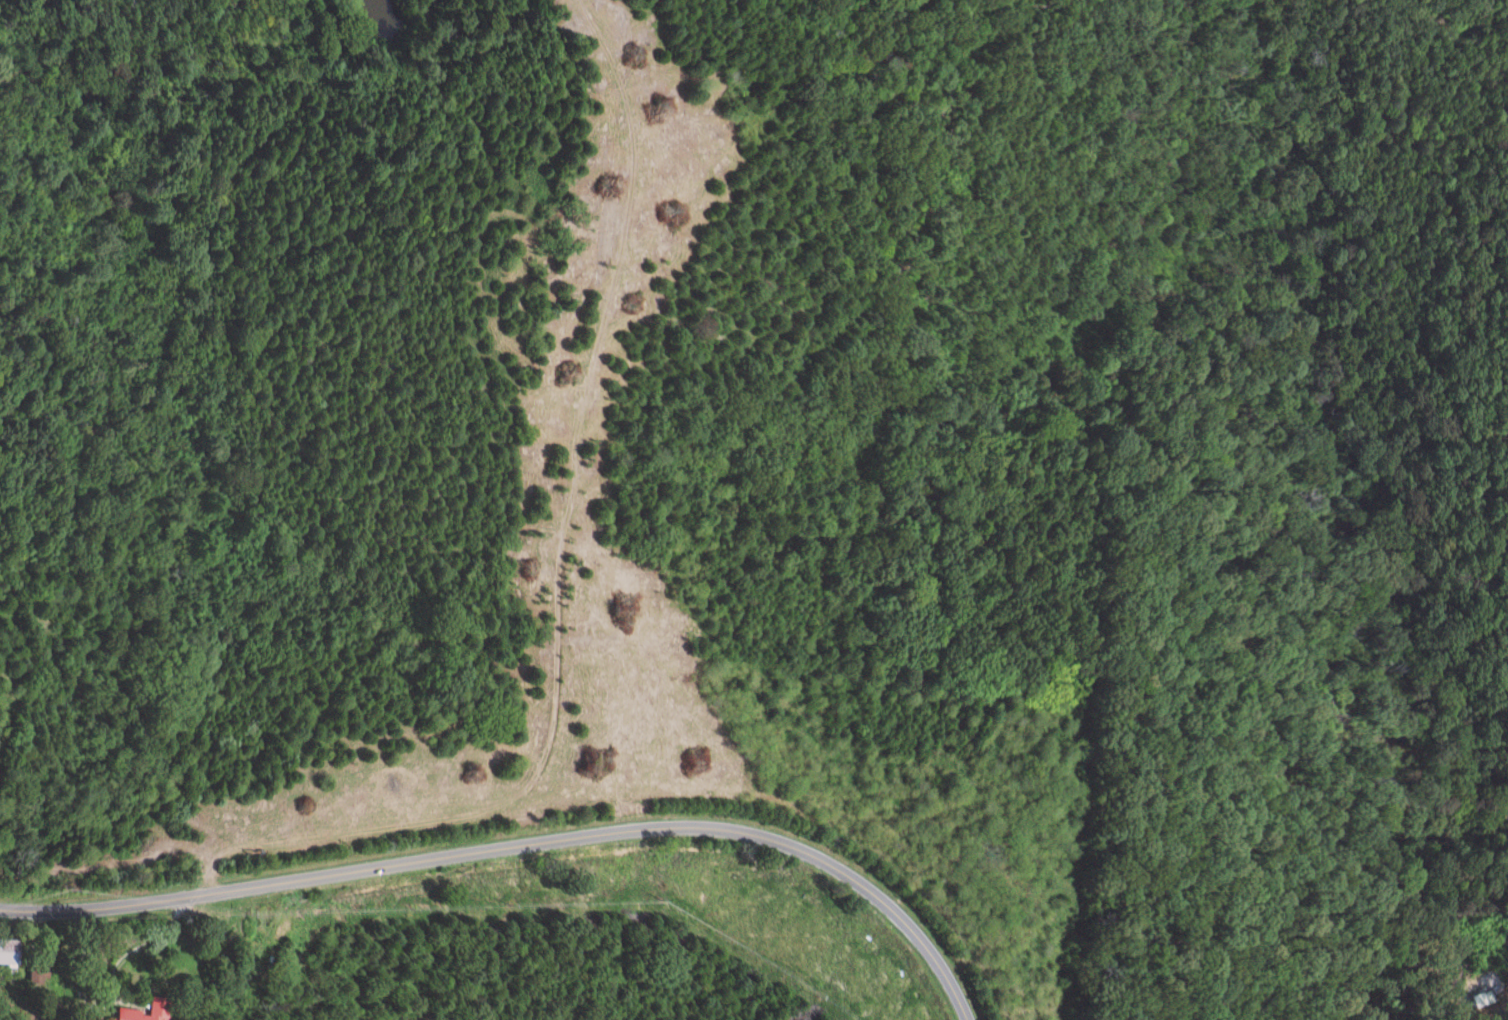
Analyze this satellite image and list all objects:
road: (522, 849)
road: (103, 946)
building: (42, 973)
building: (165, 1003)

